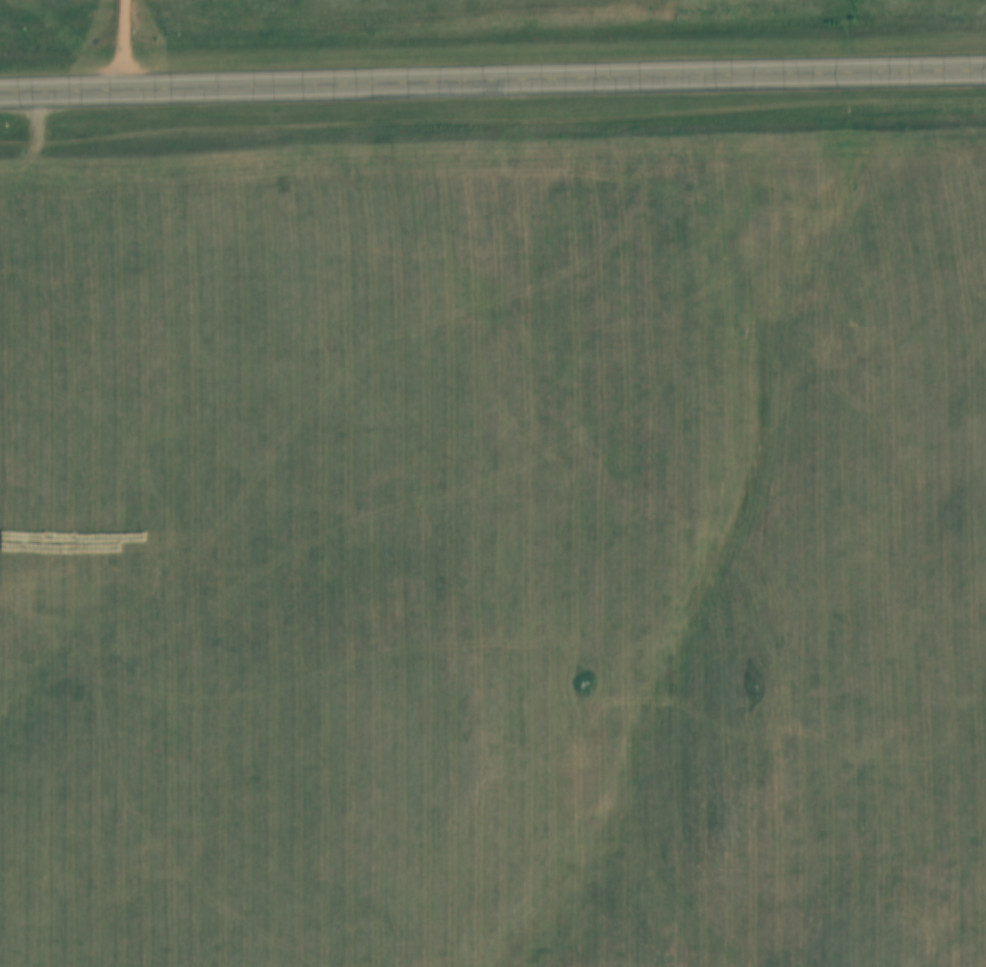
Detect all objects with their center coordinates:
road: (126, 46)
road: (493, 80)

